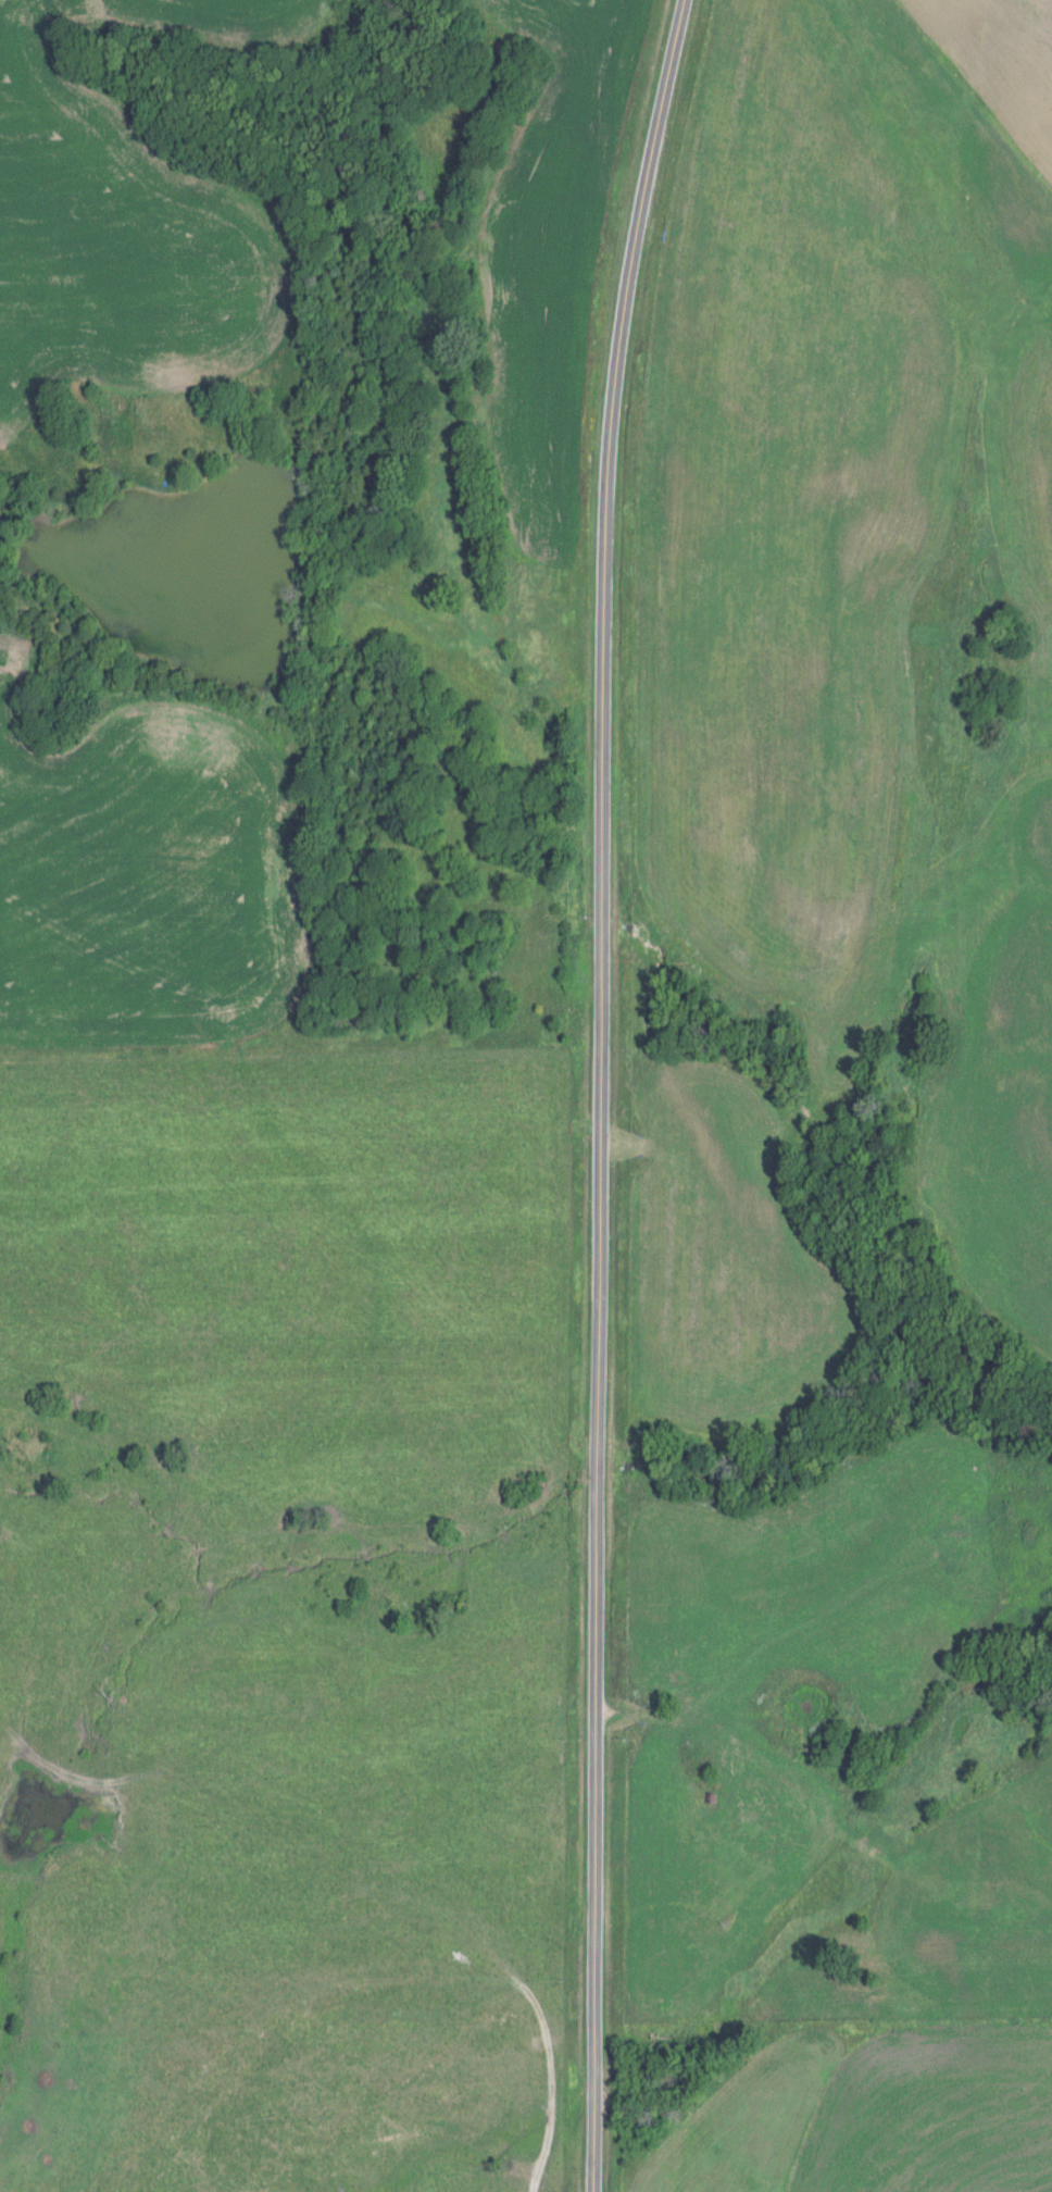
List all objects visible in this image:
road: (602, 1092)

